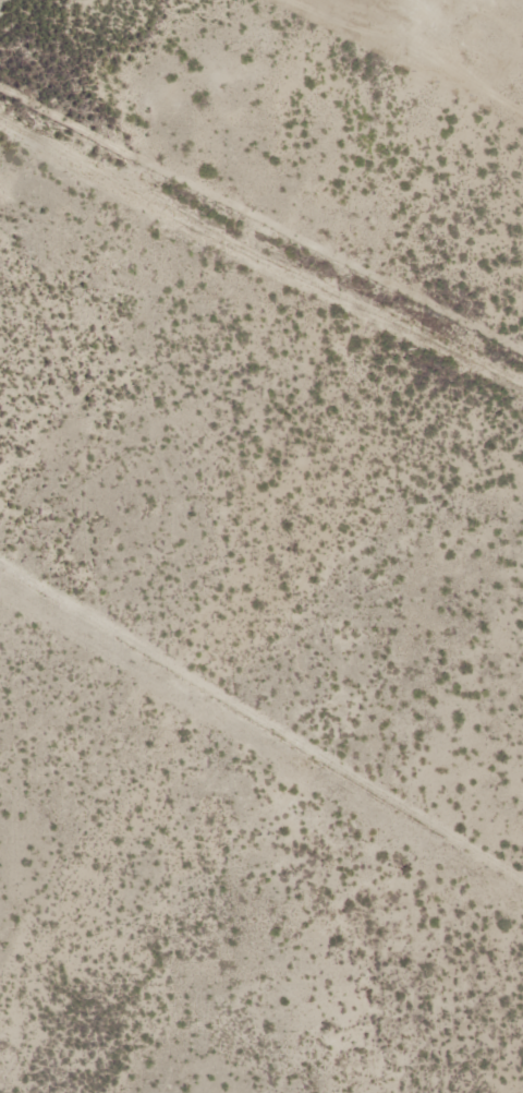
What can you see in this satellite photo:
power tower: (467, 45)
road: (261, 249)

